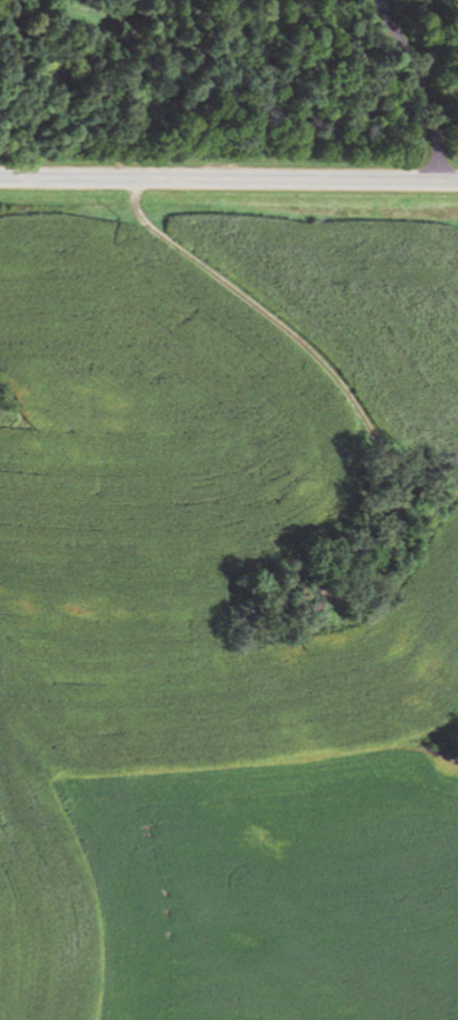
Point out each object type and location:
road: (416, 86)
road: (228, 179)

